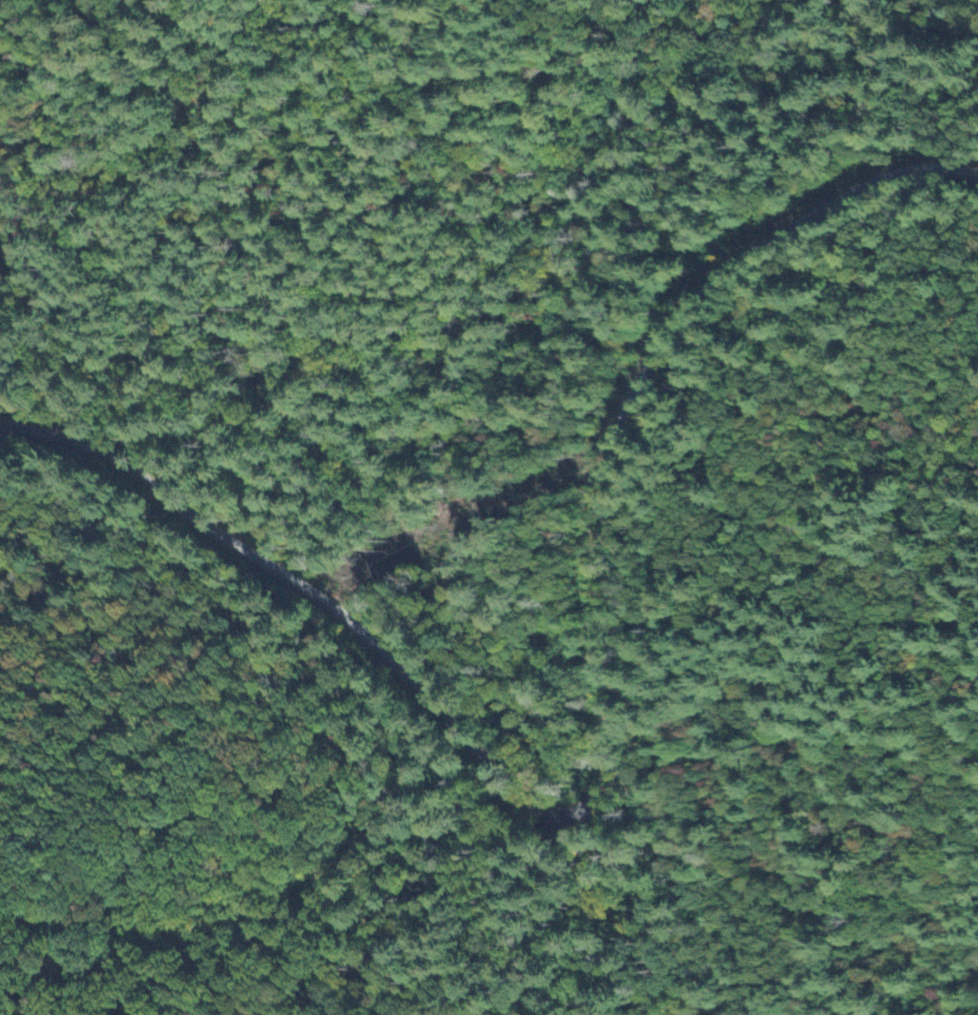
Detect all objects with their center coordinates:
road: (608, 744)

